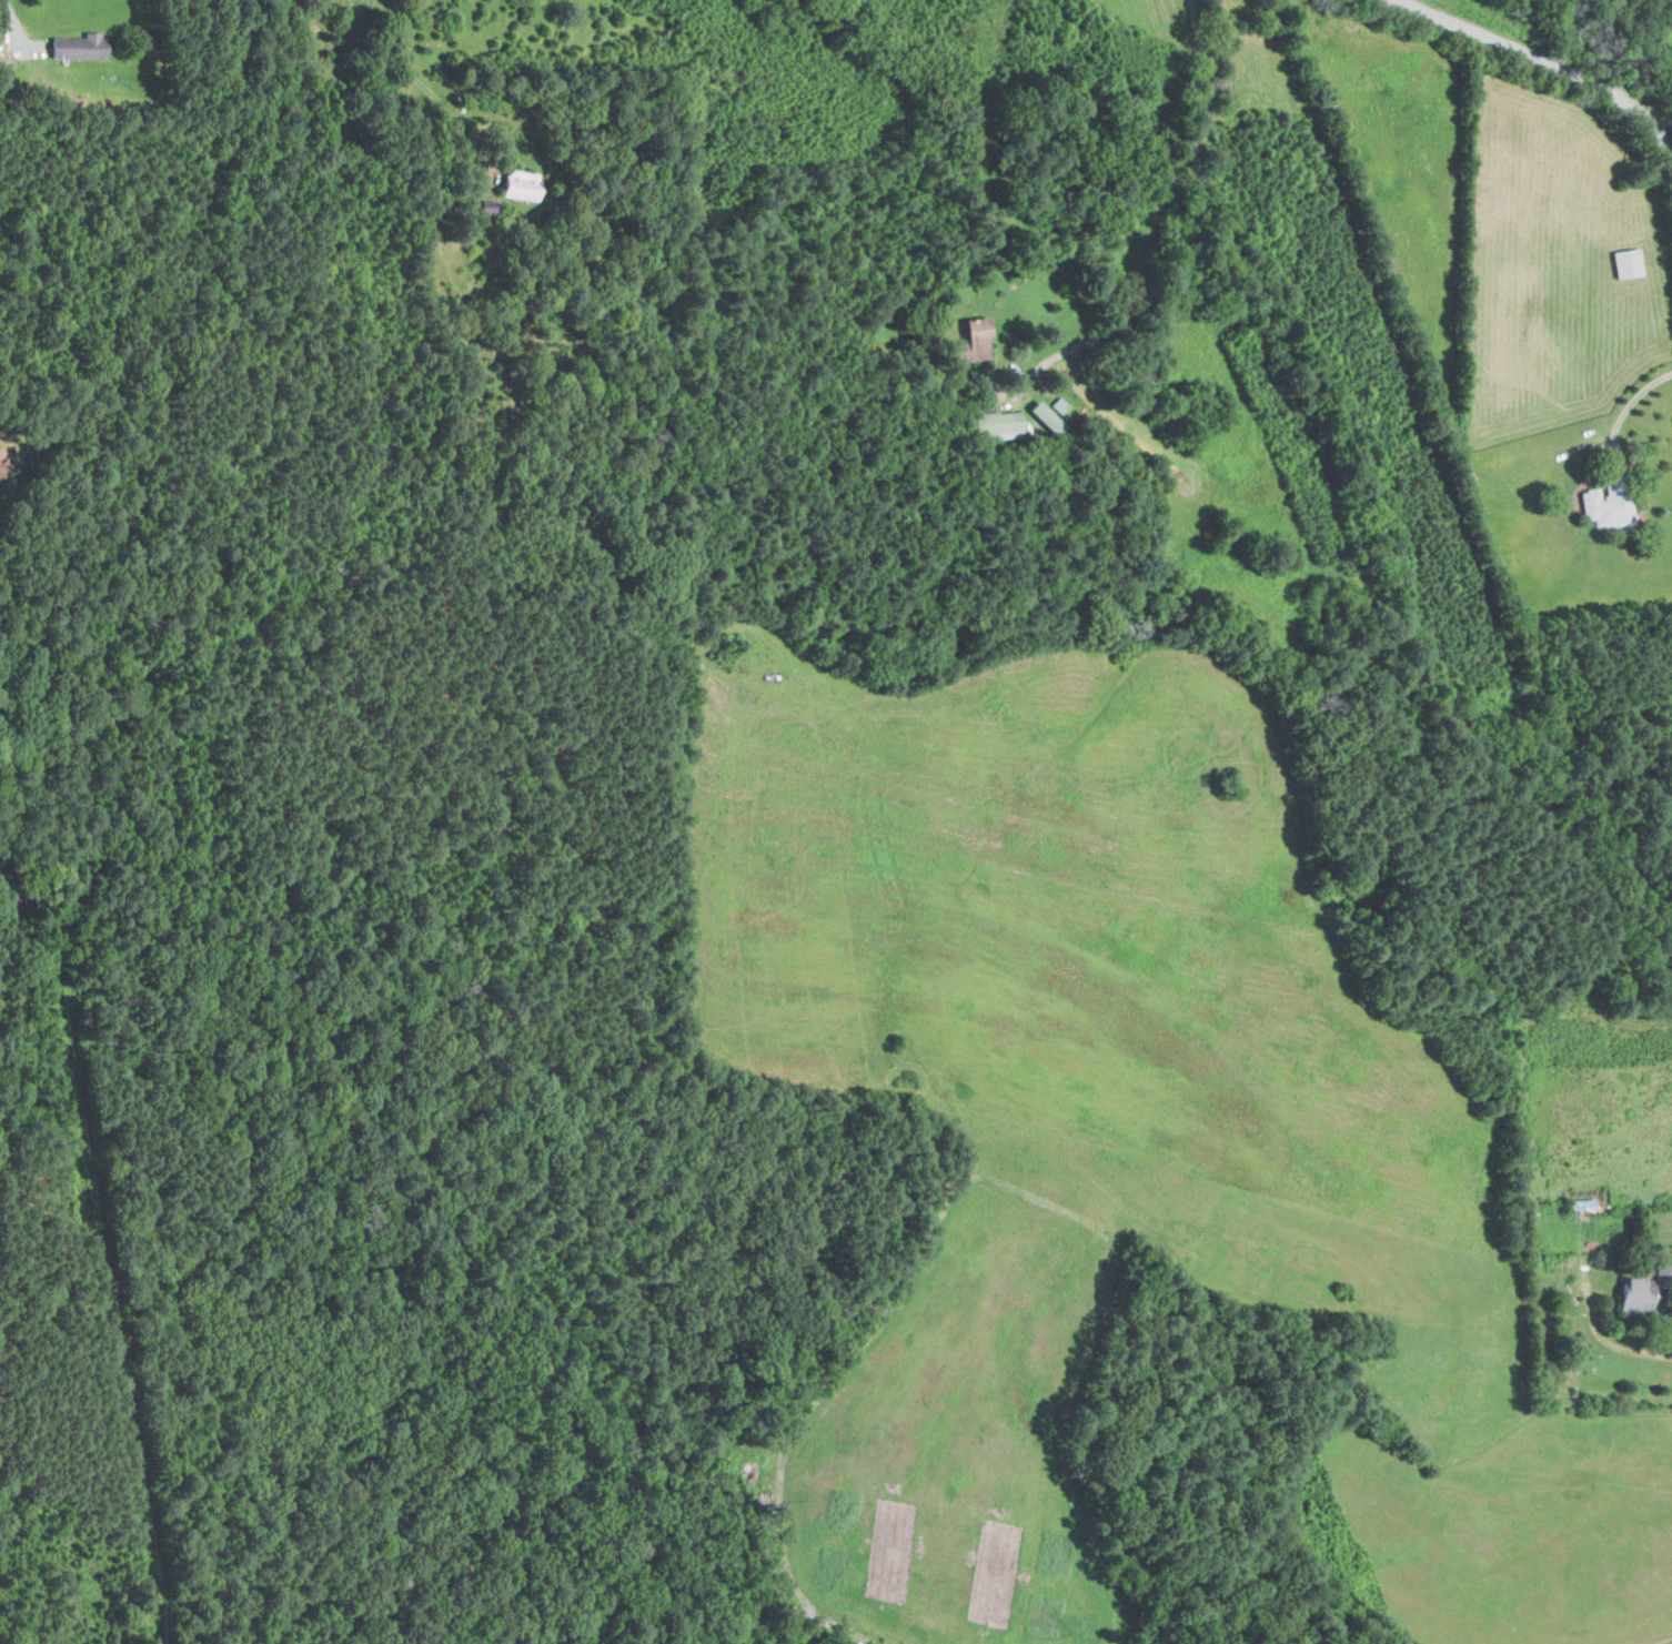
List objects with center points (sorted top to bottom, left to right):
road: (13, 27)
road: (402, 38)
building: (79, 47)
road: (1548, 56)
road: (1664, 122)
road: (454, 125)
building: (526, 185)
road: (1157, 215)
building: (1623, 263)
building: (970, 341)
building: (1059, 404)
road: (1630, 405)
building: (1039, 414)
building: (996, 424)
building: (3, 462)
building: (1604, 508)
building: (1580, 1202)
building: (1629, 1295)
road: (1663, 1333)

